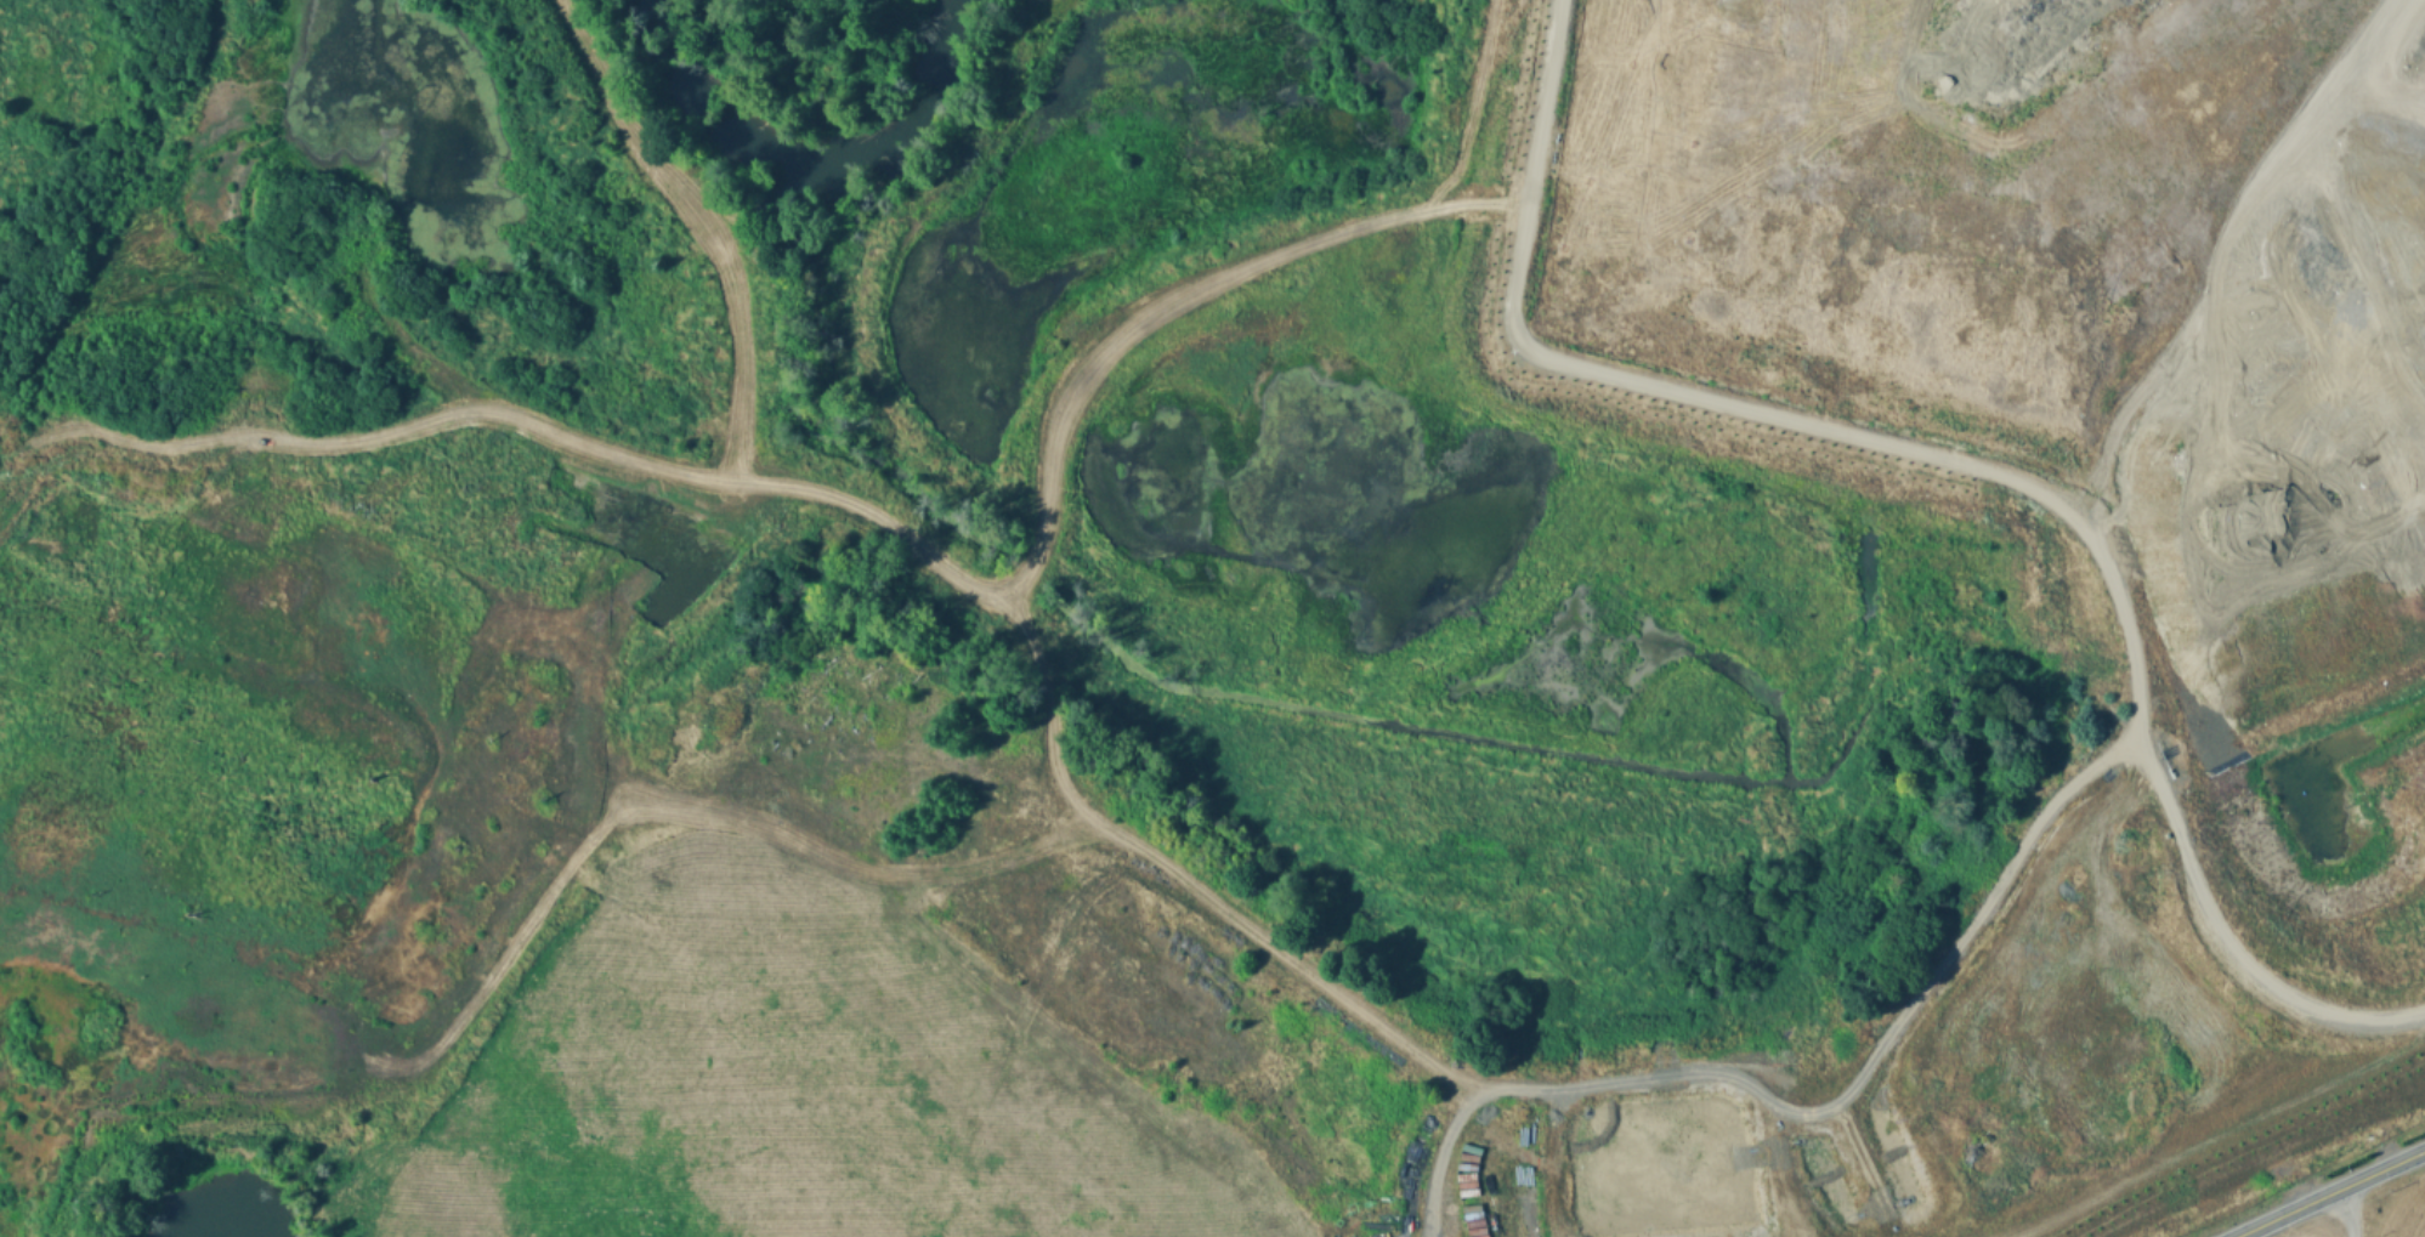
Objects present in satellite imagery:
road: (1547, 79)
river: (906, 86)
river: (716, 102)
road: (2244, 277)
road: (978, 589)
landfill: (2254, 611)
road: (2124, 732)
road: (1177, 892)
road: (2220, 944)
road: (2329, 1193)
crop: (2404, 1210)
road: (2344, 1213)
crop: (2312, 1230)

